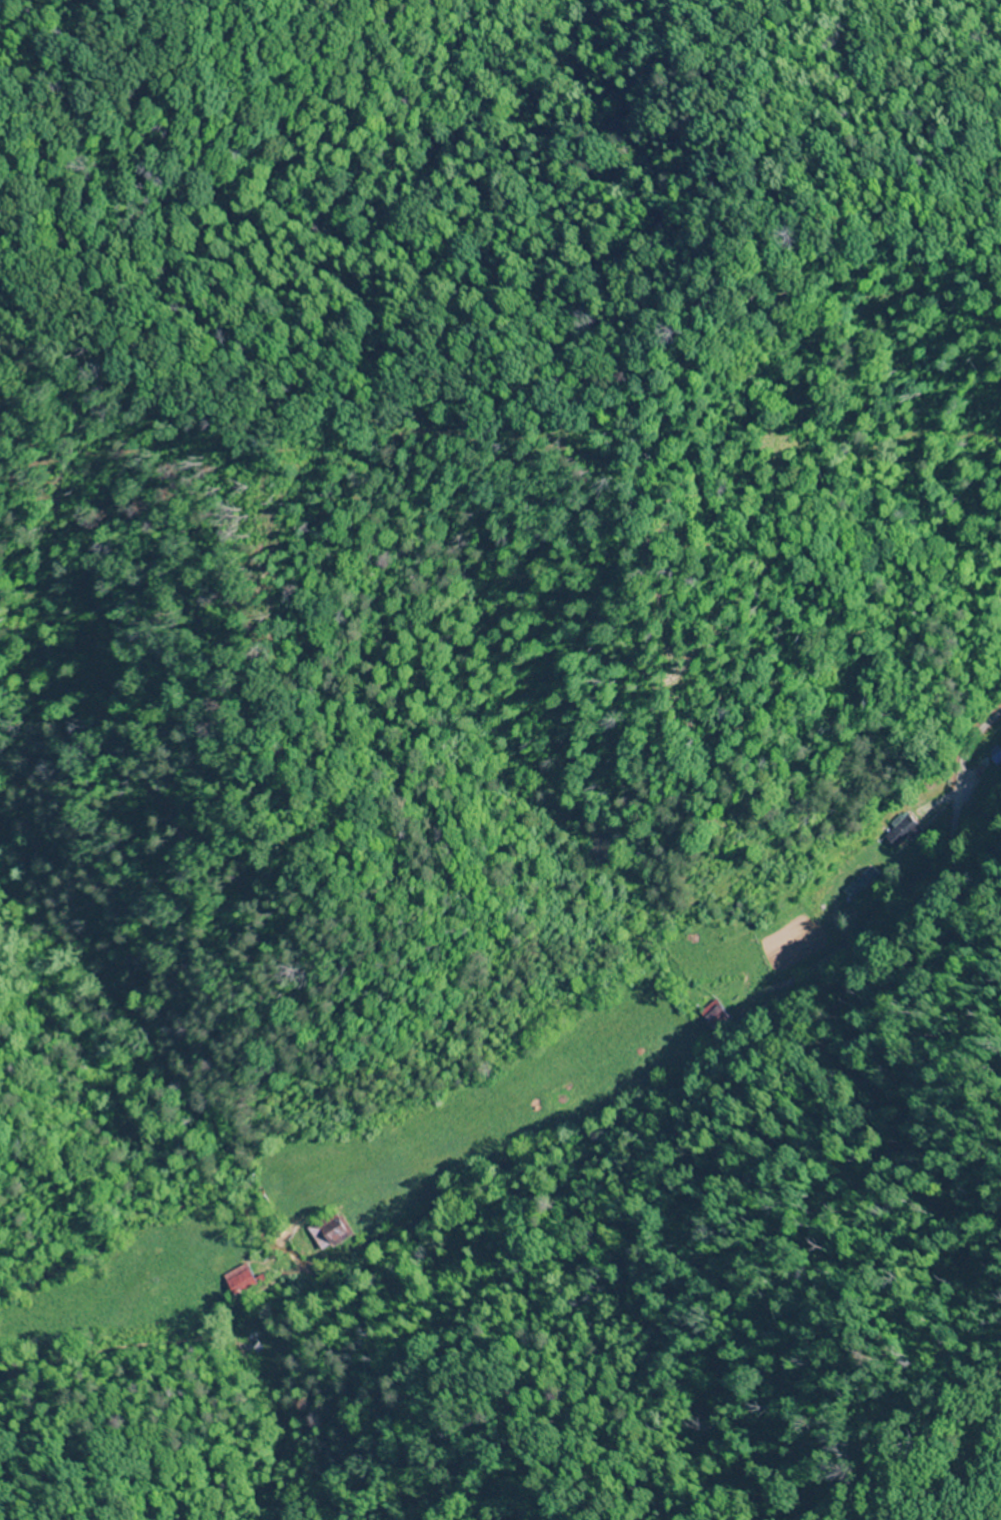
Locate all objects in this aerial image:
building: (996, 757)
building: (904, 830)
building: (853, 890)
building: (716, 1015)
road: (575, 1142)
building: (334, 1230)
building: (244, 1279)

